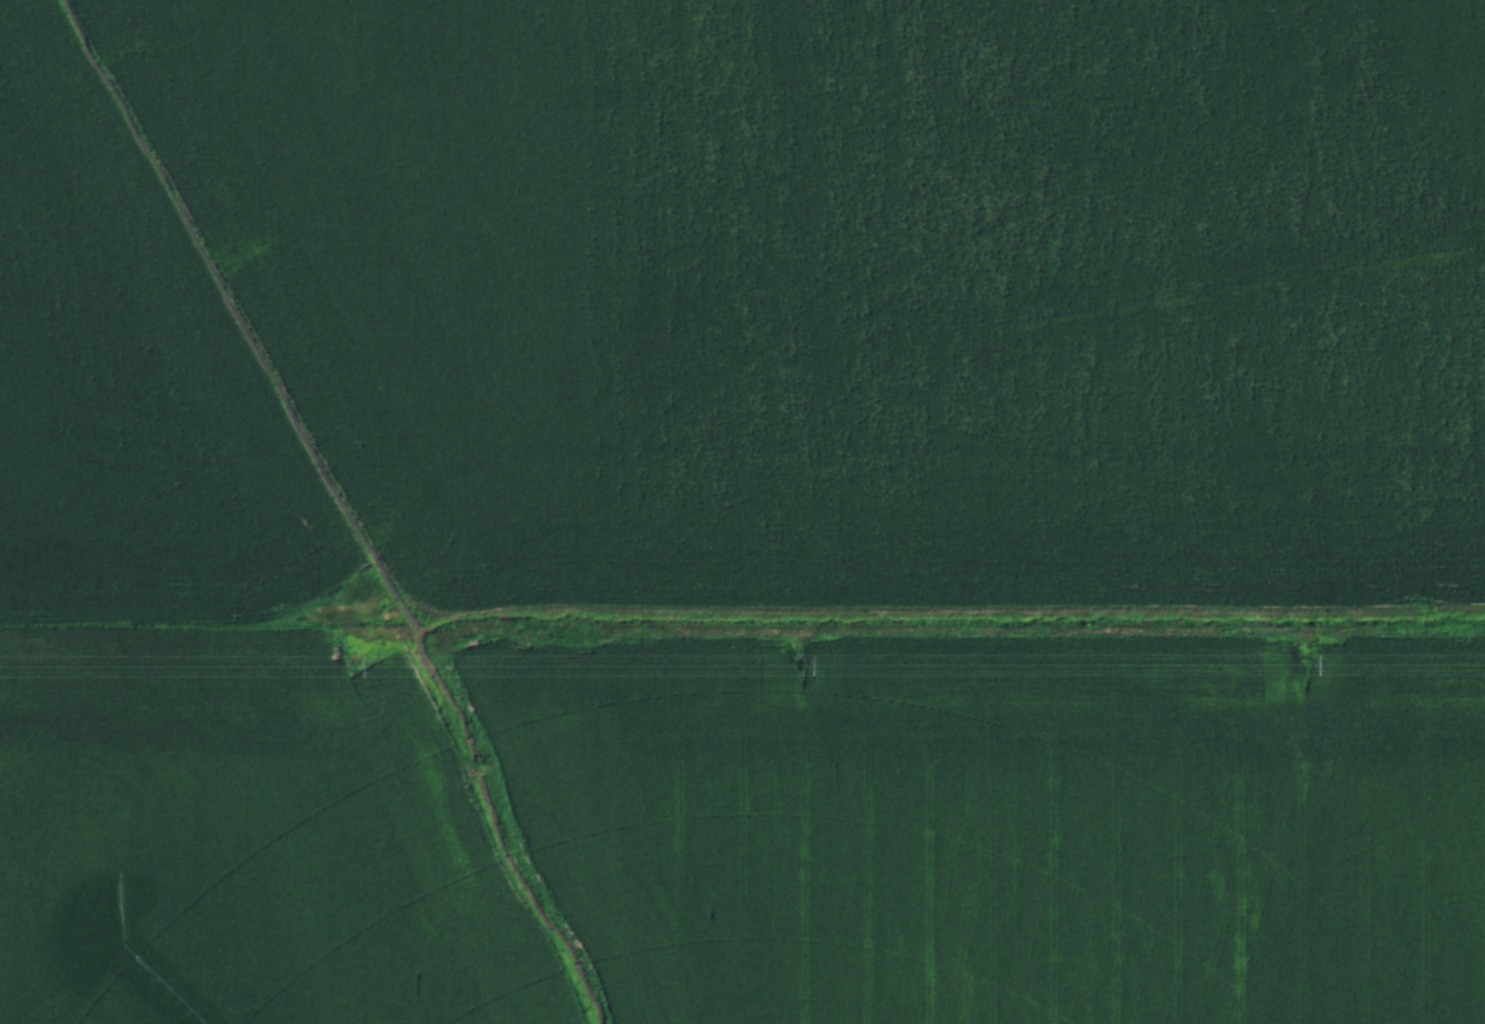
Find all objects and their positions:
power tower: (792, 662)
power tower: (336, 663)
power tower: (1301, 663)

